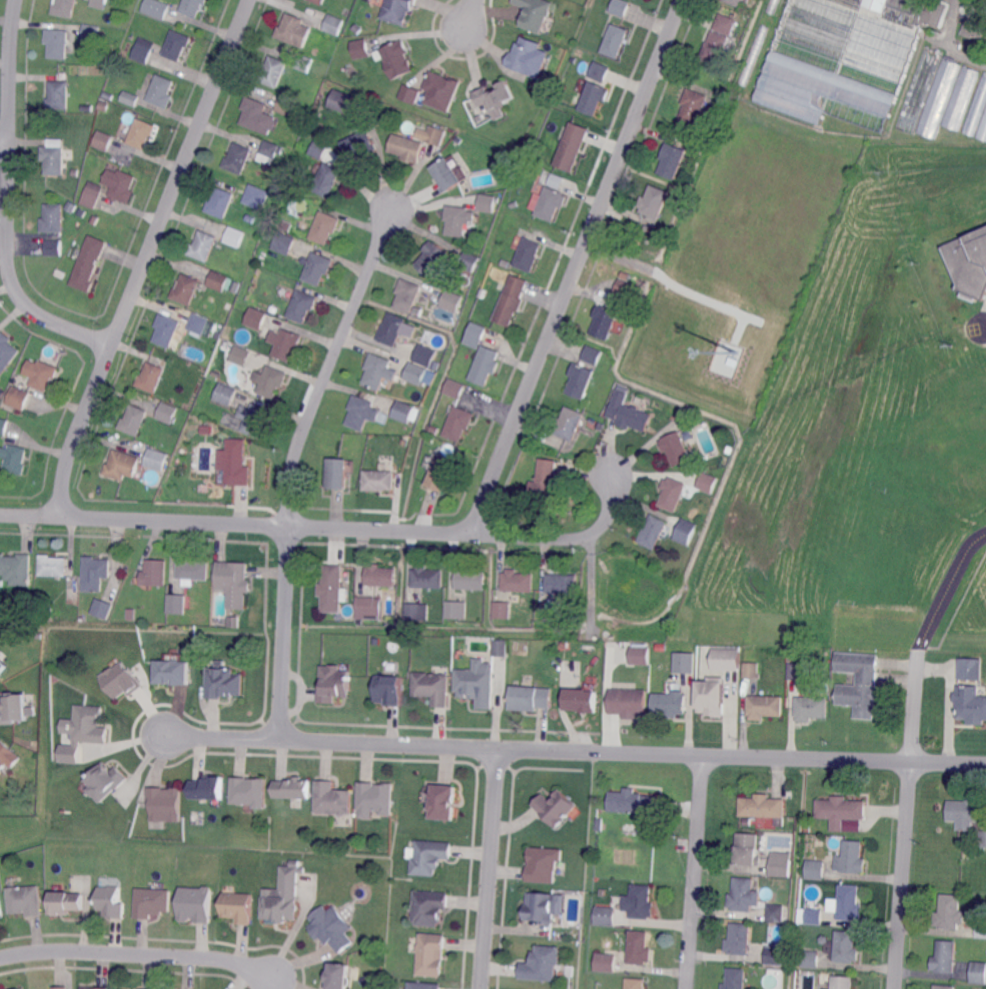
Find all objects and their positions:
building: (318, 1)
building: (735, 2)
building: (99, 3)
building: (773, 6)
building: (192, 7)
building: (620, 7)
building: (64, 8)
building: (155, 9)
building: (398, 10)
building: (534, 13)
road: (469, 17)
building: (976, 19)
building: (333, 23)
building: (725, 23)
building: (293, 30)
building: (92, 32)
building: (614, 40)
building: (58, 43)
building: (176, 45)
building: (360, 47)
building: (714, 47)
building: (972, 49)
building: (142, 52)
building: (523, 54)
building: (754, 55)
building: (397, 57)
building: (845, 59)
building: (303, 63)
building: (106, 68)
building: (272, 71)
building: (598, 71)
building: (548, 80)
building: (328, 85)
building: (440, 90)
building: (919, 90)
building: (161, 91)
building: (412, 93)
building: (58, 95)
building: (593, 97)
building: (939, 97)
building: (962, 97)
building: (130, 98)
building: (495, 99)
building: (340, 101)
building: (285, 105)
building: (693, 105)
building: (104, 106)
building: (977, 109)
building: (258, 115)
building: (982, 128)
building: (141, 133)
building: (435, 135)
road: (4, 140)
building: (103, 140)
building: (359, 143)
building: (571, 146)
building: (406, 147)
building: (319, 149)
building: (269, 151)
building: (53, 156)
building: (237, 159)
building: (671, 160)
building: (93, 162)
building: (75, 171)
building: (446, 175)
building: (557, 178)
building: (326, 180)
building: (120, 184)
building: (93, 194)
building: (256, 196)
road: (7, 201)
building: (653, 201)
building: (486, 202)
building: (547, 202)
building: (220, 203)
building: (53, 218)
building: (458, 219)
building: (287, 225)
building: (324, 227)
building: (235, 236)
building: (285, 243)
building: (203, 246)
building: (53, 247)
building: (527, 255)
road: (146, 256)
building: (432, 257)
road: (621, 258)
building: (469, 261)
building: (969, 262)
building: (88, 263)
building: (507, 263)
road: (576, 266)
building: (288, 268)
building: (317, 268)
building: (434, 279)
building: (217, 281)
building: (627, 288)
building: (186, 289)
building: (482, 292)
building: (407, 294)
building: (452, 300)
building: (510, 301)
building: (264, 306)
building: (302, 306)
building: (256, 318)
building: (604, 321)
building: (198, 323)
road: (985, 327)
building: (392, 329)
building: (166, 330)
building: (476, 334)
building: (285, 343)
building: (206, 350)
building: (6, 352)
building: (592, 354)
building: (240, 355)
building: (425, 355)
building: (726, 358)
building: (435, 364)
building: (485, 365)
building: (379, 370)
building: (215, 372)
building: (431, 372)
building: (416, 373)
building: (16, 374)
building: (43, 375)
building: (150, 377)
building: (580, 380)
building: (272, 381)
building: (454, 388)
building: (225, 394)
building: (17, 396)
building: (404, 411)
building: (167, 412)
building: (362, 412)
building: (629, 412)
building: (255, 418)
building: (133, 420)
building: (459, 423)
building: (569, 423)
building: (601, 424)
building: (3, 426)
building: (205, 428)
building: (405, 440)
building: (437, 444)
building: (676, 448)
building: (565, 450)
building: (728, 450)
building: (156, 457)
building: (14, 459)
road: (293, 462)
building: (234, 463)
building: (121, 465)
building: (338, 473)
building: (441, 474)
building: (379, 480)
building: (707, 481)
building: (546, 484)
building: (672, 493)
road: (330, 527)
building: (653, 531)
building: (689, 531)
building: (52, 565)
building: (16, 569)
building: (193, 569)
building: (95, 573)
building: (155, 573)
building: (381, 576)
building: (428, 577)
building: (471, 580)
building: (518, 580)
building: (234, 583)
building: (562, 583)
building: (333, 588)
road: (946, 588)
building: (177, 604)
building: (367, 606)
building: (102, 609)
building: (457, 609)
building: (13, 610)
building: (413, 610)
building: (503, 610)
building: (131, 612)
building: (566, 644)
building: (500, 646)
building: (639, 654)
building: (725, 658)
building: (684, 661)
building: (2, 666)
building: (969, 669)
building: (751, 670)
building: (796, 671)
building: (172, 672)
building: (121, 681)
building: (223, 682)
building: (479, 683)
building: (858, 683)
building: (334, 684)
building: (434, 688)
building: (390, 690)
building: (711, 695)
building: (532, 697)
building: (585, 700)
building: (628, 701)
building: (670, 703)
building: (971, 704)
building: (765, 706)
building: (13, 708)
building: (811, 708)
building: (84, 732)
road: (570, 751)
building: (7, 756)
building: (105, 782)
building: (293, 789)
building: (209, 790)
building: (249, 792)
building: (375, 799)
building: (333, 800)
building: (633, 802)
building: (443, 803)
building: (165, 805)
building: (764, 807)
building: (554, 808)
building: (840, 810)
building: (965, 812)
road: (906, 821)
building: (760, 825)
building: (610, 828)
building: (983, 838)
building: (747, 849)
building: (851, 857)
building: (430, 858)
building: (780, 864)
building: (544, 865)
road: (492, 869)
building: (815, 869)
road: (695, 872)
building: (282, 896)
building: (743, 896)
building: (24, 899)
building: (110, 900)
building: (66, 901)
building: (151, 901)
building: (639, 902)
building: (849, 903)
building: (196, 904)
building: (238, 907)
building: (543, 908)
building: (431, 909)
building: (0, 912)
building: (776, 912)
building: (950, 912)
building: (605, 915)
building: (814, 916)
building: (329, 928)
building: (981, 929)
building: (739, 939)
building: (846, 947)
building: (639, 948)
road: (143, 954)
building: (775, 955)
building: (431, 956)
building: (945, 957)
building: (811, 958)
building: (605, 961)
building: (542, 966)
building: (978, 972)
building: (339, 975)
building: (735, 979)
building: (842, 982)
building: (635, 983)
building: (424, 986)
building: (944, 986)
building: (60, 987)
building: (94, 987)
building: (826, 988)

